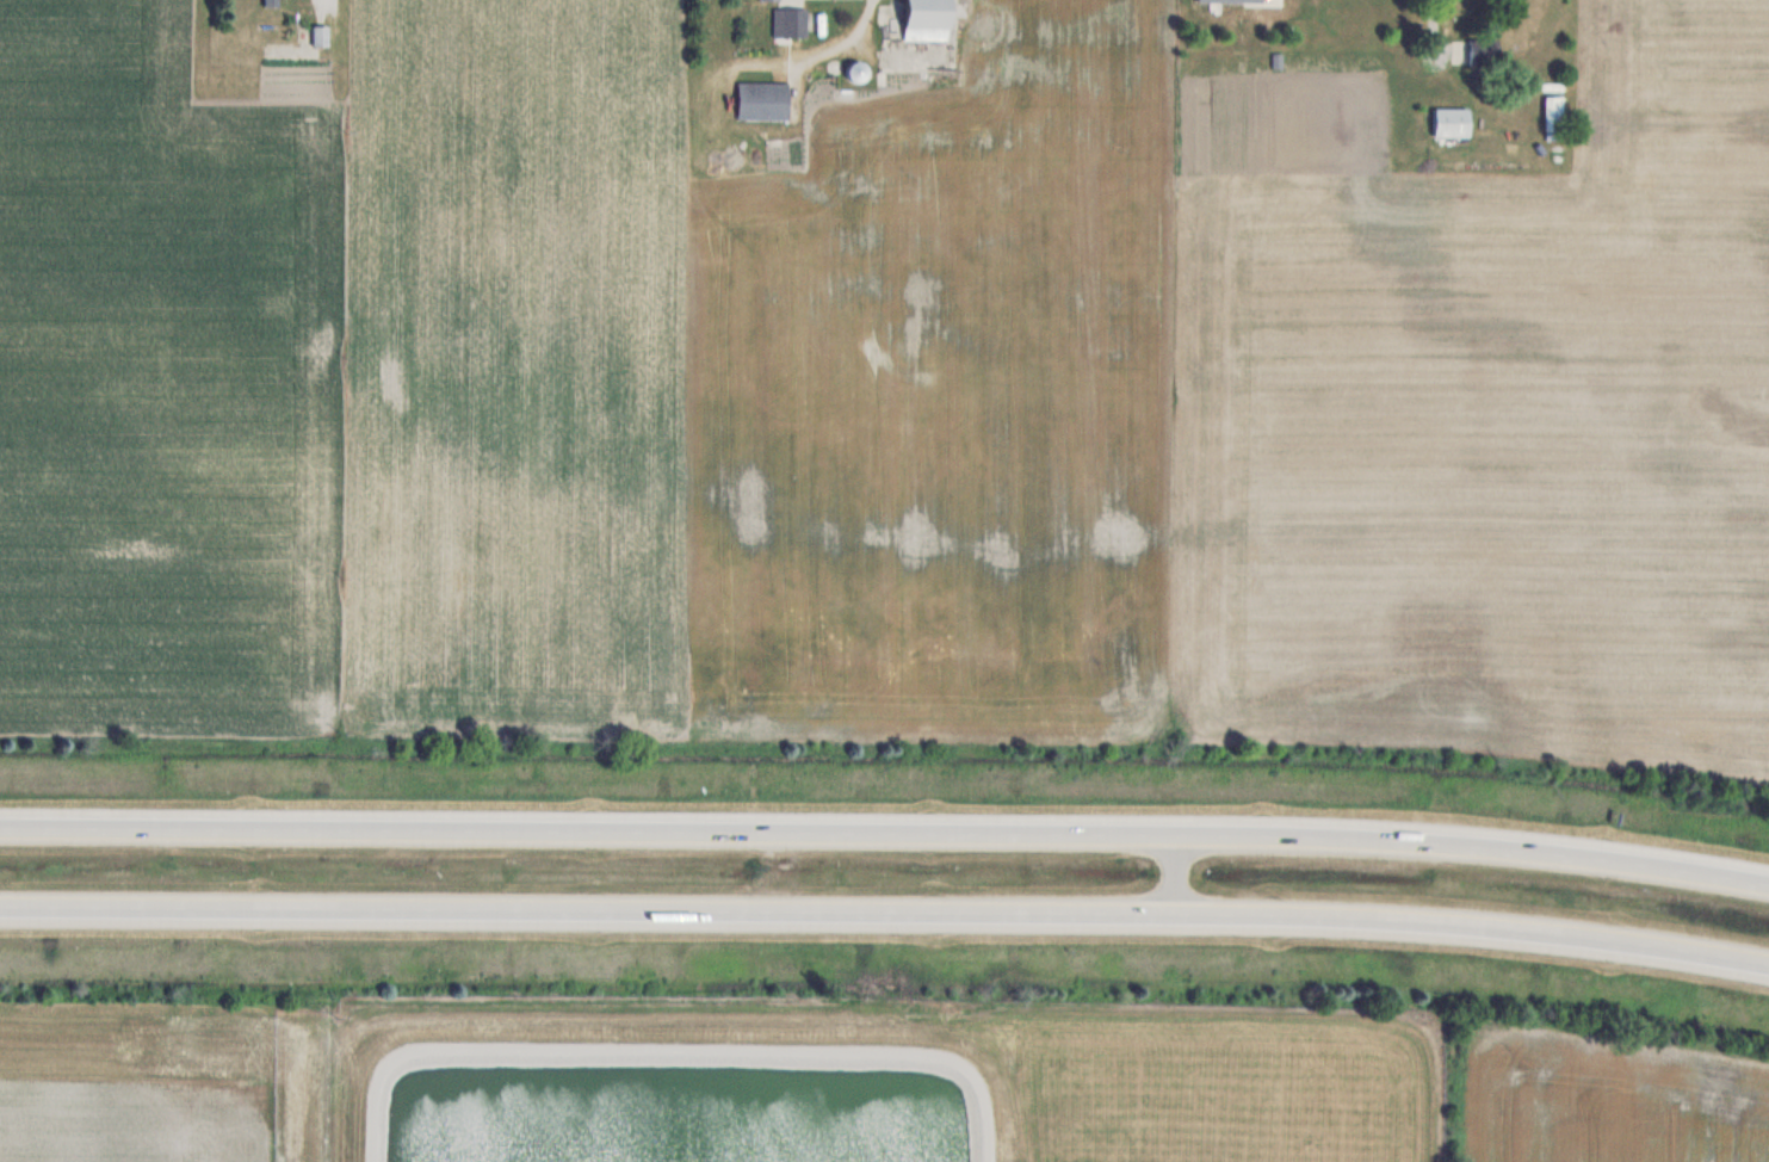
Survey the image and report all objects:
building: (771, 0)
building: (272, 4)
building: (928, 20)
building: (790, 23)
building: (321, 36)
building: (855, 72)
building: (762, 101)
building: (1554, 118)
building: (1452, 124)
road: (885, 833)
road: (777, 871)
road: (885, 911)
road: (676, 1051)
wastewater plant: (891, 1081)
crop: (131, 1124)

